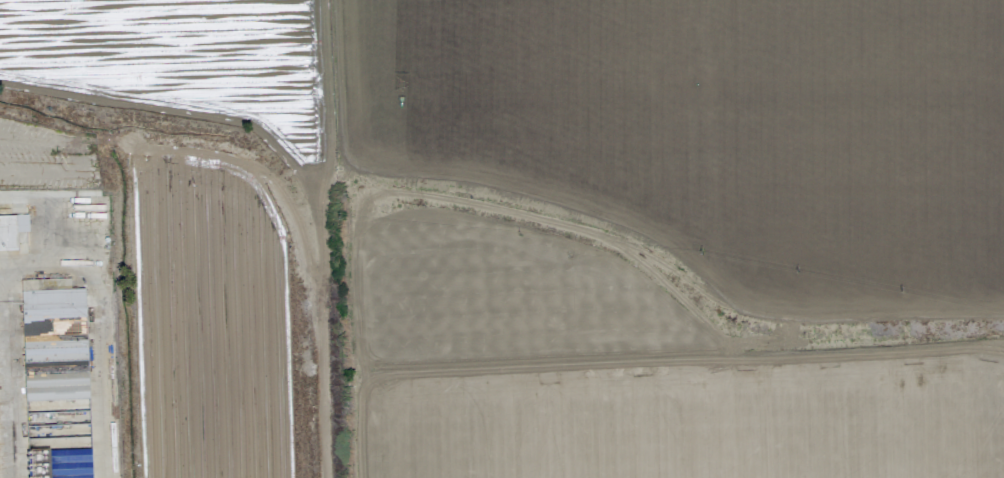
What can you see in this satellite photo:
building: (11, 231)
road: (319, 237)
crop: (502, 239)
road: (25, 266)
road: (100, 287)
building: (53, 341)
building: (70, 464)

